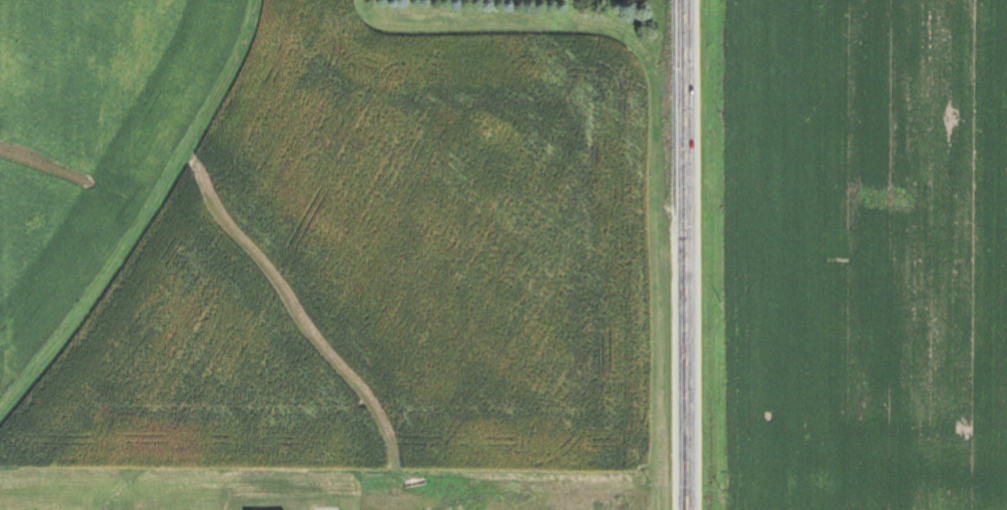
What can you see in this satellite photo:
road: (682, 255)
airport: (322, 488)

